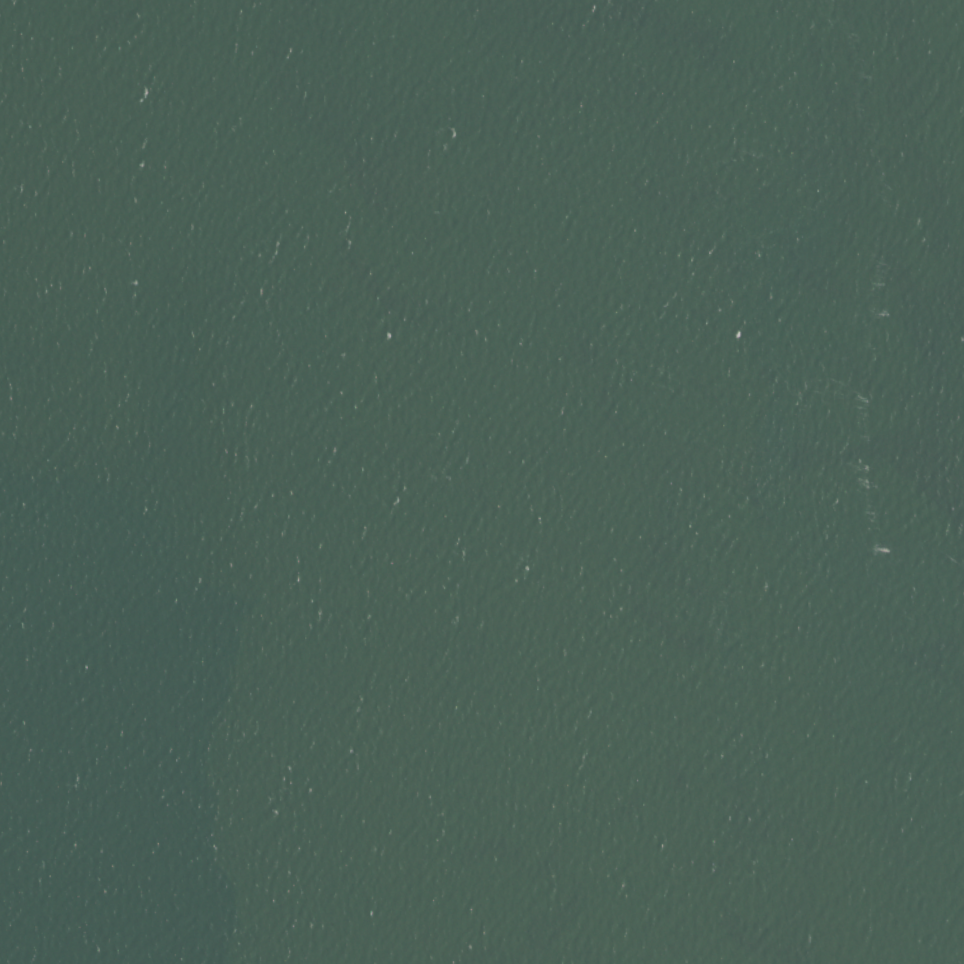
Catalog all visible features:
building: (542, 530)

